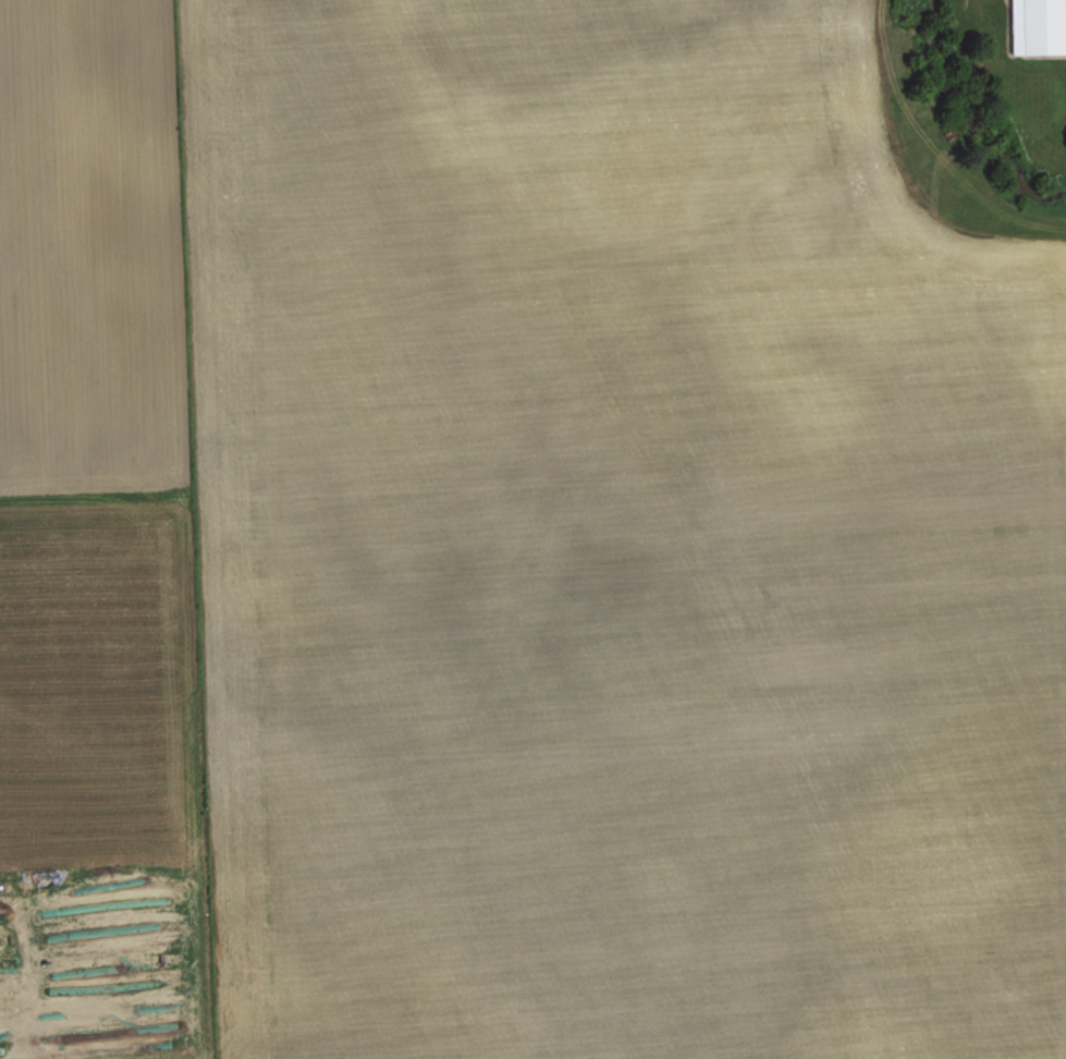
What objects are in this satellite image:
building: (1037, 25)

